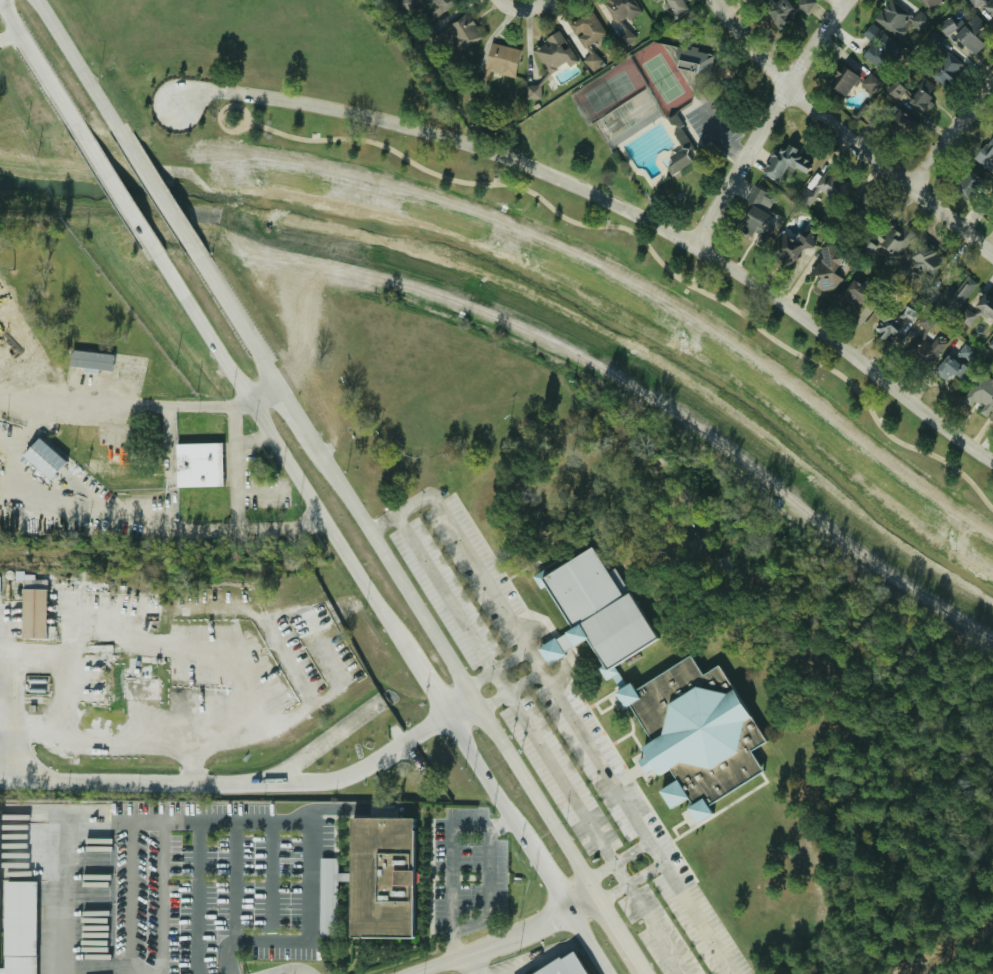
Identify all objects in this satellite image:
building: (651, 0)
building: (974, 2)
building: (930, 3)
building: (803, 4)
building: (428, 6)
road: (529, 6)
building: (674, 6)
building: (988, 8)
building: (620, 10)
building: (775, 10)
building: (898, 19)
building: (586, 28)
building: (457, 31)
building: (968, 34)
building: (624, 37)
road: (10, 38)
road: (64, 47)
building: (880, 49)
building: (552, 53)
road: (31, 56)
building: (692, 61)
building: (496, 63)
building: (943, 68)
building: (840, 81)
building: (869, 82)
building: (894, 90)
building: (922, 95)
building: (939, 113)
road: (769, 119)
road: (111, 121)
building: (830, 125)
building: (896, 126)
road: (80, 127)
road: (848, 132)
building: (678, 134)
road: (720, 136)
road: (953, 140)
building: (985, 154)
building: (783, 162)
building: (966, 183)
road: (116, 186)
building: (824, 188)
road: (154, 191)
road: (612, 202)
building: (858, 208)
building: (754, 214)
building: (893, 240)
building: (789, 248)
building: (923, 260)
building: (827, 268)
river: (538, 273)
building: (856, 295)
building: (947, 297)
building: (976, 308)
building: (910, 311)
building: (924, 322)
building: (883, 326)
building: (990, 343)
building: (927, 349)
building: (964, 352)
building: (87, 359)
building: (951, 370)
building: (980, 391)
road: (261, 393)
road: (238, 404)
road: (82, 407)
road: (273, 441)
building: (39, 458)
building: (197, 464)
road: (232, 467)
road: (396, 512)
road: (280, 523)
road: (184, 528)
road: (388, 563)
building: (32, 608)
building: (593, 612)
road: (495, 668)
road: (427, 683)
road: (507, 688)
road: (511, 699)
road: (8, 706)
parking lot: (540, 707)
road: (581, 731)
building: (691, 735)
road: (322, 741)
road: (481, 769)
road: (247, 783)
road: (355, 811)
road: (87, 821)
road: (449, 857)
road: (614, 862)
road: (545, 868)
building: (326, 877)
building: (379, 878)
road: (309, 880)
road: (233, 881)
road: (268, 881)
road: (631, 883)
road: (489, 892)
road: (133, 898)
road: (159, 898)
building: (20, 927)
building: (1, 929)
road: (658, 929)
road: (620, 934)
road: (502, 938)
road: (591, 942)
road: (532, 958)
road: (587, 958)
road: (471, 963)
building: (563, 965)
road: (288, 971)

